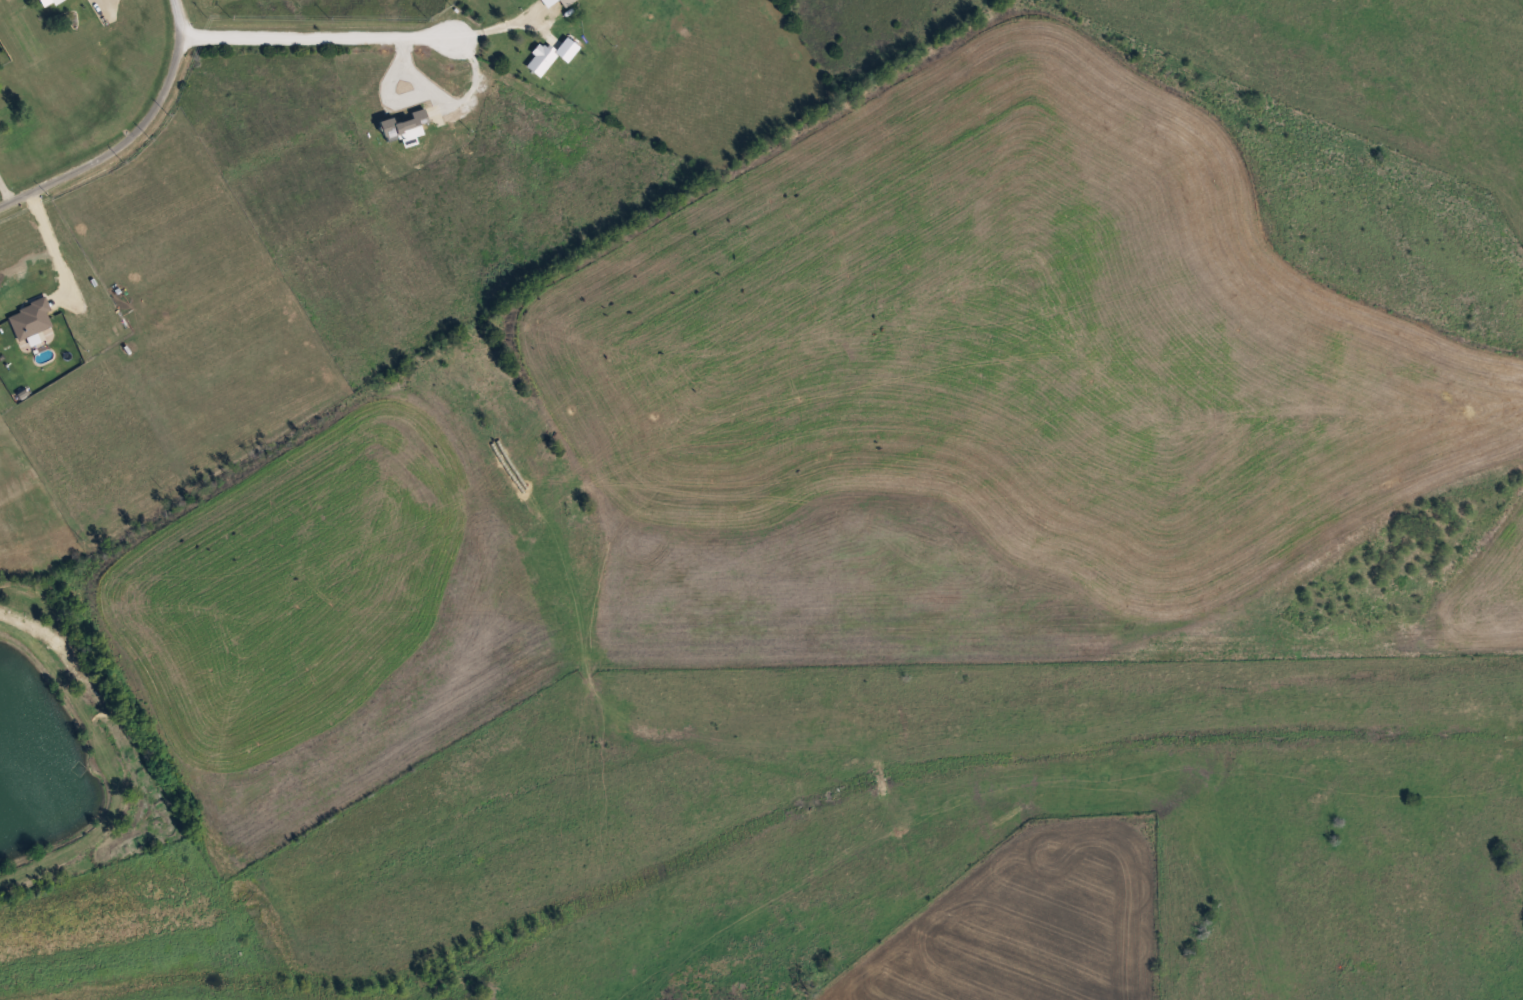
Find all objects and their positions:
building: (46, 2)
building: (548, 2)
building: (565, 2)
building: (539, 60)
road: (130, 134)
building: (71, 662)

